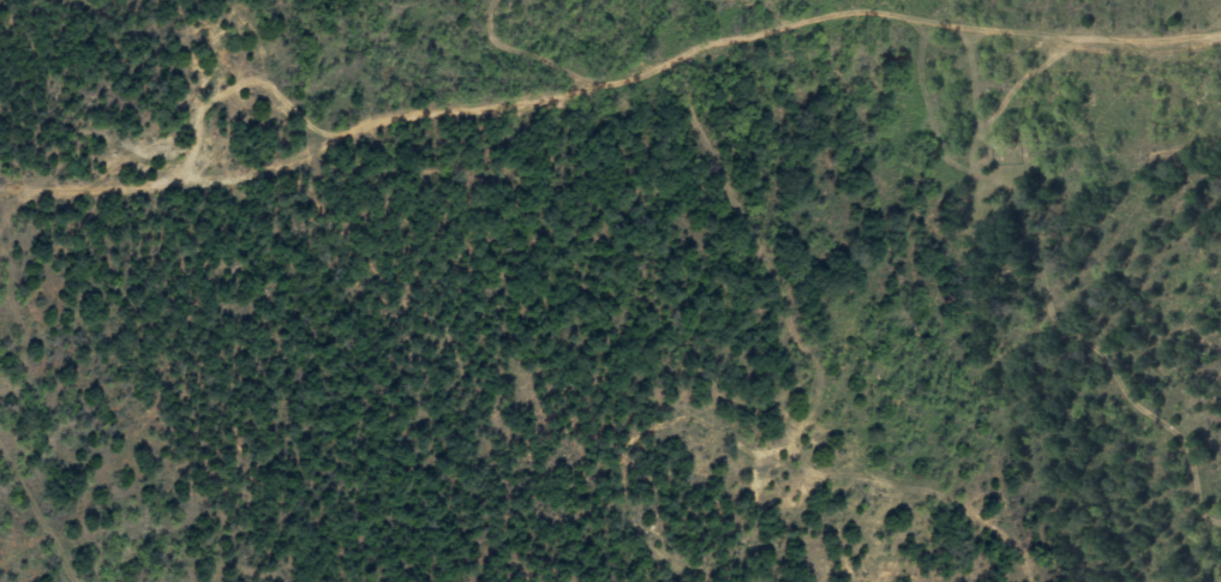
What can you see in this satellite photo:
road: (614, 109)

